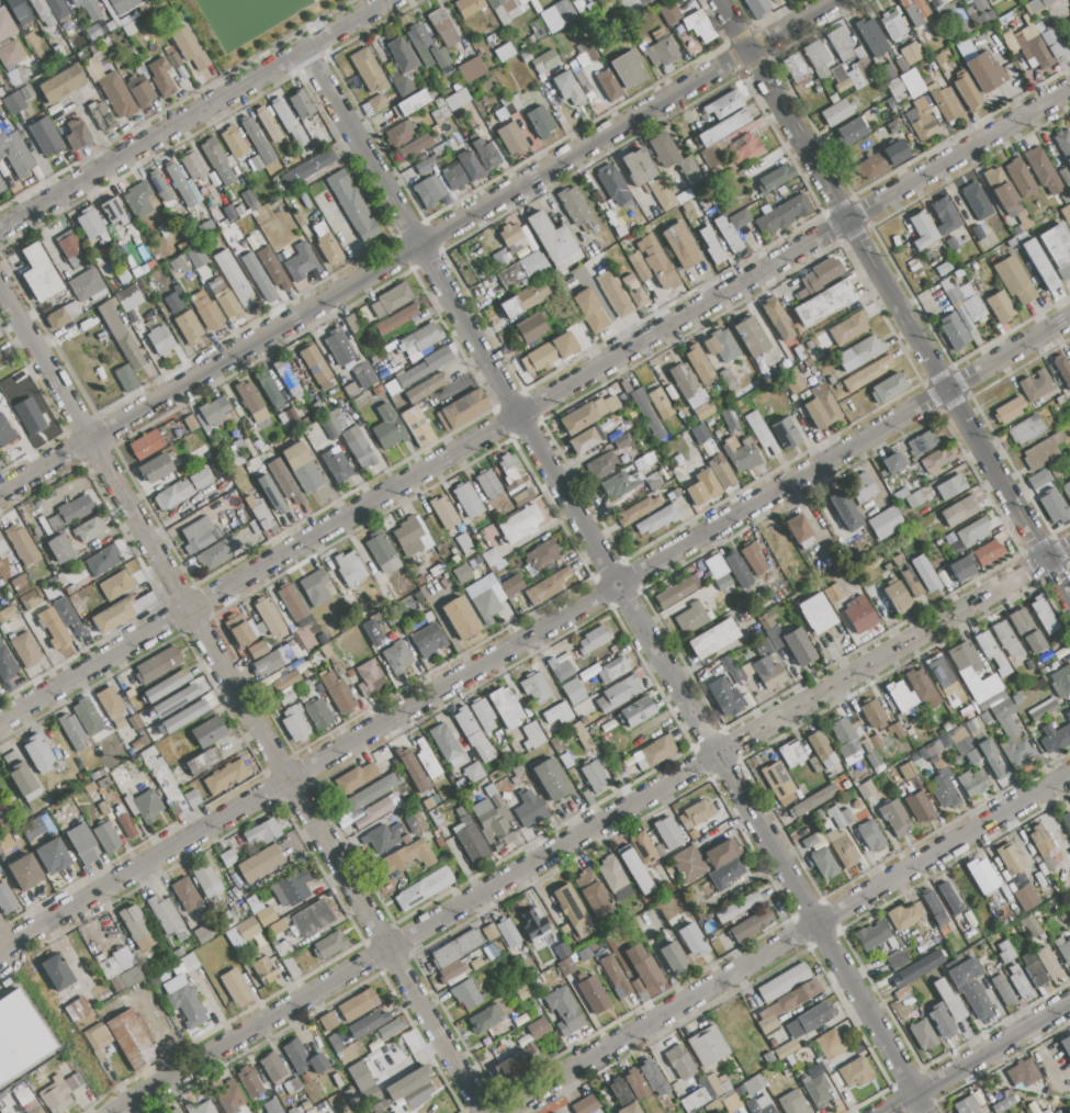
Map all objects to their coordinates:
building: (1006, 0)
building: (643, 1)
building: (631, 2)
building: (1046, 2)
building: (936, 3)
building: (977, 3)
building: (123, 5)
building: (469, 7)
building: (1032, 7)
building: (58, 8)
building: (89, 8)
building: (756, 8)
building: (506, 10)
building: (18, 11)
building: (914, 11)
building: (42, 12)
building: (668, 12)
building: (989, 14)
building: (560, 15)
park: (246, 18)
building: (1069, 20)
building: (1069, 23)
building: (5, 24)
building: (110, 25)
building: (698, 25)
building: (892, 25)
building: (442, 27)
building: (129, 30)
building: (97, 31)
building: (550, 31)
building: (536, 36)
building: (871, 37)
building: (1052, 43)
building: (841, 45)
building: (964, 46)
building: (426, 48)
building: (190, 49)
building: (1034, 49)
building: (9, 52)
building: (58, 52)
building: (661, 52)
building: (98, 53)
building: (585, 53)
building: (858, 53)
building: (909, 53)
building: (402, 56)
building: (526, 56)
building: (816, 58)
building: (941, 58)
building: (174, 59)
building: (544, 60)
building: (901, 65)
building: (795, 67)
building: (864, 68)
building: (628, 69)
building: (368, 70)
building: (472, 70)
building: (837, 71)
building: (984, 71)
building: (887, 72)
building: (15, 77)
building: (579, 77)
building: (162, 78)
building: (855, 79)
building: (61, 83)
building: (608, 85)
building: (900, 85)
building: (843, 86)
building: (403, 87)
building: (568, 89)
building: (587, 90)
building: (966, 90)
building: (1, 92)
building: (139, 92)
building: (116, 95)
building: (457, 98)
building: (16, 100)
building: (438, 102)
building: (595, 102)
building: (301, 103)
building: (376, 103)
building: (889, 103)
building: (943, 103)
building: (410, 104)
building: (723, 104)
building: (924, 109)
building: (837, 112)
building: (439, 114)
building: (500, 114)
building: (101, 116)
road: (196, 116)
building: (540, 121)
building: (288, 122)
building: (268, 124)
building: (920, 125)
building: (723, 127)
building: (892, 127)
road: (92, 130)
building: (852, 132)
building: (401, 134)
building: (77, 135)
building: (45, 137)
building: (510, 138)
building: (320, 139)
building: (257, 140)
building: (233, 142)
building: (1063, 144)
building: (415, 147)
building: (439, 147)
building: (744, 148)
building: (663, 149)
building: (13, 150)
building: (485, 153)
building: (892, 154)
building: (709, 156)
building: (216, 160)
building: (229, 161)
building: (256, 162)
building: (193, 165)
building: (469, 165)
building: (871, 166)
building: (308, 167)
building: (638, 167)
building: (688, 169)
building: (1043, 169)
building: (727, 173)
building: (1020, 177)
building: (1065, 177)
building: (453, 178)
building: (775, 179)
building: (2, 184)
building: (159, 184)
building: (612, 184)
building: (180, 185)
building: (428, 191)
building: (1002, 191)
building: (663, 194)
building: (138, 199)
building: (249, 200)
building: (976, 201)
building: (351, 204)
road: (487, 206)
building: (576, 207)
building: (113, 211)
building: (1066, 213)
building: (784, 214)
building: (740, 218)
building: (947, 218)
building: (1023, 221)
building: (89, 223)
building: (203, 227)
building: (166, 229)
building: (922, 229)
building: (977, 232)
building: (228, 234)
building: (510, 234)
building: (728, 234)
building: (552, 237)
building: (1011, 241)
building: (326, 243)
road: (49, 244)
building: (951, 244)
building: (682, 246)
building: (710, 246)
building: (182, 247)
building: (518, 248)
building: (1057, 249)
building: (71, 250)
building: (477, 255)
building: (198, 257)
building: (179, 263)
building: (302, 263)
building: (657, 263)
building: (1039, 265)
building: (527, 266)
building: (640, 266)
building: (272, 268)
building: (40, 272)
building: (136, 272)
building: (213, 272)
building: (821, 273)
building: (510, 276)
building: (234, 278)
building: (550, 280)
building: (1014, 280)
building: (629, 282)
building: (86, 283)
building: (261, 283)
road: (2, 288)
building: (171, 291)
building: (64, 294)
building: (615, 294)
building: (950, 294)
building: (638, 297)
building: (224, 299)
road: (894, 299)
building: (522, 300)
building: (391, 301)
building: (128, 302)
building: (824, 302)
building: (972, 306)
building: (1000, 306)
building: (47, 307)
road: (605, 307)
building: (590, 310)
building: (71, 311)
building: (206, 312)
building: (56, 318)
building: (776, 318)
building: (396, 319)
building: (352, 325)
building: (852, 326)
building: (188, 327)
building: (531, 328)
building: (953, 331)
building: (120, 335)
building: (751, 336)
building: (823, 339)
building: (419, 340)
building: (160, 341)
building: (563, 345)
building: (721, 346)
building: (339, 348)
building: (72, 350)
building: (859, 352)
building: (799, 353)
building: (541, 357)
building: (372, 360)
building: (1, 361)
building: (699, 364)
building: (316, 367)
building: (425, 367)
building: (1062, 369)
building: (866, 374)
building: (285, 375)
building: (364, 375)
building: (126, 379)
building: (793, 381)
building: (687, 383)
building: (729, 383)
building: (1035, 385)
building: (424, 386)
building: (887, 387)
building: (268, 390)
building: (350, 390)
building: (818, 390)
building: (378, 391)
building: (248, 396)
building: (658, 400)
building: (1069, 402)
road: (534, 405)
building: (462, 409)
building: (822, 409)
building: (1009, 409)
building: (703, 411)
building: (213, 412)
building: (587, 414)
building: (646, 414)
building: (27, 415)
building: (282, 417)
building: (261, 419)
building: (730, 419)
building: (335, 421)
building: (191, 423)
building: (417, 426)
building: (678, 426)
building: (387, 427)
building: (326, 428)
building: (1026, 430)
building: (761, 431)
building: (5, 432)
building: (698, 432)
building: (785, 432)
building: (585, 440)
building: (620, 441)
building: (922, 442)
road: (87, 443)
building: (146, 443)
building: (238, 446)
building: (249, 447)
building: (358, 447)
building: (1044, 451)
building: (742, 454)
building: (200, 456)
building: (936, 460)
building: (644, 461)
building: (893, 462)
building: (336, 465)
building: (601, 465)
building: (302, 466)
building: (510, 466)
building: (155, 469)
building: (1055, 472)
building: (721, 473)
building: (883, 473)
building: (911, 474)
building: (201, 480)
building: (283, 481)
building: (517, 481)
building: (652, 481)
building: (1036, 481)
building: (708, 482)
building: (488, 484)
building: (620, 484)
road: (18, 485)
building: (861, 487)
building: (517, 490)
building: (1067, 490)
building: (936, 491)
building: (905, 492)
building: (696, 493)
building: (271, 494)
building: (172, 495)
building: (523, 496)
building: (468, 499)
building: (1052, 506)
building: (75, 507)
building: (638, 510)
building: (958, 510)
building: (443, 511)
building: (845, 511)
building: (261, 515)
building: (219, 518)
building: (657, 519)
building: (55, 521)
building: (519, 522)
building: (885, 522)
building: (254, 527)
building: (89, 529)
building: (799, 531)
building: (972, 531)
building: (196, 536)
building: (408, 536)
building: (486, 537)
building: (949, 539)
building: (425, 541)
building: (464, 543)
building: (22, 546)
building: (2, 547)
building: (59, 549)
building: (217, 552)
building: (382, 552)
building: (988, 552)
building: (542, 554)
building: (492, 558)
building: (753, 558)
building: (102, 560)
building: (497, 565)
building: (349, 569)
building: (737, 569)
building: (961, 569)
building: (437, 570)
building: (925, 572)
building: (906, 575)
building: (420, 581)
building: (724, 582)
building: (20, 583)
road: (616, 583)
building: (116, 585)
building: (513, 585)
building: (315, 587)
building: (545, 587)
building: (71, 589)
building: (677, 591)
building: (833, 593)
building: (897, 597)
building: (485, 599)
building: (31, 600)
building: (757, 600)
road: (679, 603)
building: (293, 604)
building: (79, 610)
building: (120, 612)
building: (815, 612)
building: (5, 615)
building: (859, 615)
building: (1043, 615)
building: (68, 616)
building: (269, 617)
building: (428, 617)
building: (690, 617)
building: (461, 618)
building: (765, 621)
building: (415, 625)
building: (260, 626)
building: (53, 629)
building: (1025, 629)
building: (241, 634)
building: (304, 634)
road: (531, 634)
building: (317, 639)
building: (712, 639)
building: (1006, 639)
building: (428, 640)
building: (593, 640)
building: (768, 645)
building: (798, 647)
building: (25, 650)
building: (257, 650)
building: (326, 651)
building: (991, 652)
building: (964, 656)
road: (978, 656)
building: (397, 657)
building: (272, 661)
building: (727, 662)
building: (158, 664)
building: (5, 665)
building: (552, 665)
building: (338, 668)
building: (613, 670)
building: (592, 671)
building: (745, 671)
building: (307, 673)
building: (350, 673)
building: (941, 673)
building: (735, 674)
building: (768, 674)
building: (275, 675)
building: (370, 678)
building: (285, 681)
building: (1060, 681)
building: (165, 685)
building: (307, 686)
building: (536, 687)
building: (922, 688)
building: (574, 692)
building: (129, 693)
building: (337, 693)
building: (617, 693)
building: (285, 697)
building: (723, 697)
building: (899, 697)
building: (991, 699)
building: (1015, 699)
building: (172, 701)
road: (243, 702)
building: (110, 705)
building: (505, 707)
building: (1043, 709)
building: (635, 711)
building: (557, 712)
building: (318, 713)
building: (874, 713)
building: (482, 715)
building: (1068, 715)
building: (87, 716)
building: (183, 716)
building: (1000, 717)
building: (134, 721)
building: (294, 723)
building: (972, 724)
building: (608, 726)
building: (948, 726)
building: (896, 730)
building: (72, 731)
building: (207, 732)
building: (472, 734)
building: (581, 735)
building: (532, 737)
building: (847, 737)
building: (1056, 739)
building: (143, 740)
building: (960, 741)
building: (554, 742)
building: (875, 742)
building: (447, 744)
building: (818, 744)
building: (518, 746)
building: (867, 746)
building: (937, 746)
building: (931, 752)
building: (791, 753)
building: (1015, 753)
building: (38, 754)
building: (651, 754)
building: (973, 755)
building: (990, 757)
building: (427, 758)
building: (831, 758)
building: (203, 761)
building: (566, 761)
building: (814, 764)
building: (825, 764)
building: (413, 769)
building: (906, 771)
building: (473, 772)
building: (120, 776)
building: (594, 776)
building: (224, 777)
building: (356, 777)
building: (551, 779)
building: (164, 780)
building: (23, 782)
building: (972, 782)
building: (778, 783)
building: (460, 784)
building: (866, 789)
building: (944, 789)
building: (491, 790)
building: (372, 791)
building: (469, 797)
building: (587, 797)
building: (192, 798)
building: (813, 800)
building: (428, 803)
building: (146, 806)
building: (920, 807)
building: (103, 808)
building: (530, 809)
building: (374, 812)
building: (696, 813)
building: (819, 813)
building: (843, 818)
building: (894, 818)
building: (1066, 820)
building: (494, 821)
building: (5, 823)
building: (126, 825)
building: (32, 829)
road: (590, 829)
road: (1052, 829)
building: (668, 832)
building: (262, 834)
building: (870, 835)
building: (106, 836)
building: (380, 839)
building: (1039, 839)
building: (809, 841)
building: (439, 842)
building: (81, 843)
building: (470, 843)
building: (450, 844)
building: (644, 848)
building: (841, 848)
building: (721, 853)
building: (408, 855)
building: (52, 856)
building: (227, 858)
building: (1010, 858)
building: (261, 864)
building: (689, 864)
building: (823, 864)
building: (24, 872)
building: (635, 872)
building: (611, 873)
building: (725, 874)
building: (981, 875)
building: (206, 879)
building: (962, 886)
building: (294, 887)
building: (425, 889)
building: (707, 889)
building: (593, 893)
building: (185, 895)
building: (1026, 898)
building: (5, 899)
building: (950, 901)
building: (739, 907)
building: (933, 907)
building: (573, 910)
building: (266, 917)
building: (905, 917)
building: (168, 918)
building: (312, 919)
building: (227, 920)
building: (532, 924)
building: (751, 924)
building: (1030, 926)
building: (136, 927)
building: (241, 932)
building: (489, 933)
building: (202, 934)
building: (508, 934)
building: (874, 936)
road: (5, 937)
building: (694, 938)
road: (784, 944)
building: (328, 945)
building: (283, 949)
building: (454, 949)
building: (1062, 949)
building: (560, 951)
building: (489, 952)
building: (1005, 952)
building: (602, 954)
building: (673, 957)
building: (897, 959)
building: (476, 964)
building: (644, 964)
building: (1048, 964)
building: (291, 965)
building: (191, 966)
building: (565, 966)
building: (120, 969)
building: (262, 970)
building: (452, 970)
building: (1033, 970)
building: (58, 975)
building: (615, 975)
building: (1018, 981)
building: (784, 982)
building: (637, 986)
building: (969, 986)
building: (235, 987)
building: (1003, 989)
building: (521, 992)
building: (902, 993)
building: (465, 994)
building: (593, 994)
building: (799, 996)
building: (949, 999)
building: (184, 1001)
building: (357, 1005)
building: (77, 1008)
building: (564, 1011)
building: (485, 1020)
building: (809, 1020)
building: (942, 1021)
building: (329, 1022)
building: (367, 1024)
building: (767, 1024)
building: (538, 1028)
building: (391, 1030)
building: (923, 1035)
building: (20, 1036)
building: (98, 1037)
building: (132, 1039)
building: (335, 1043)
building: (832, 1043)
building: (707, 1046)
building: (1066, 1046)
building: (785, 1049)
road: (1043, 1055)
building: (768, 1057)
road: (977, 1057)
building: (303, 1058)
building: (513, 1065)
building: (675, 1065)
building: (285, 1066)
building: (272, 1068)
building: (1023, 1071)
building: (855, 1072)
building: (653, 1077)
building: (305, 1078)
building: (835, 1080)
building: (249, 1082)
building: (408, 1082)
building: (635, 1083)
building: (753, 1084)
building: (292, 1086)
building: (724, 1087)
building: (815, 1090)
building: (620, 1092)
building: (362, 1094)
building: (56, 1095)
building: (22, 1097)
building: (418, 1097)
building: (232, 1099)
building: (697, 1099)
building: (730, 1101)
building: (790, 1102)
building: (1002, 1103)
building: (306, 1104)
building: (382, 1104)
building: (583, 1105)
building: (759, 1105)
building: (967, 1105)
building: (712, 1106)
building: (200, 1108)
building: (269, 1108)
building: (630, 1108)
building: (295, 1110)
building: (428, 1110)
building: (740, 1110)
building: (36, 1111)
building: (173, 1111)
building: (0, 1112)
building: (358, 1112)
building: (360, 1112)

